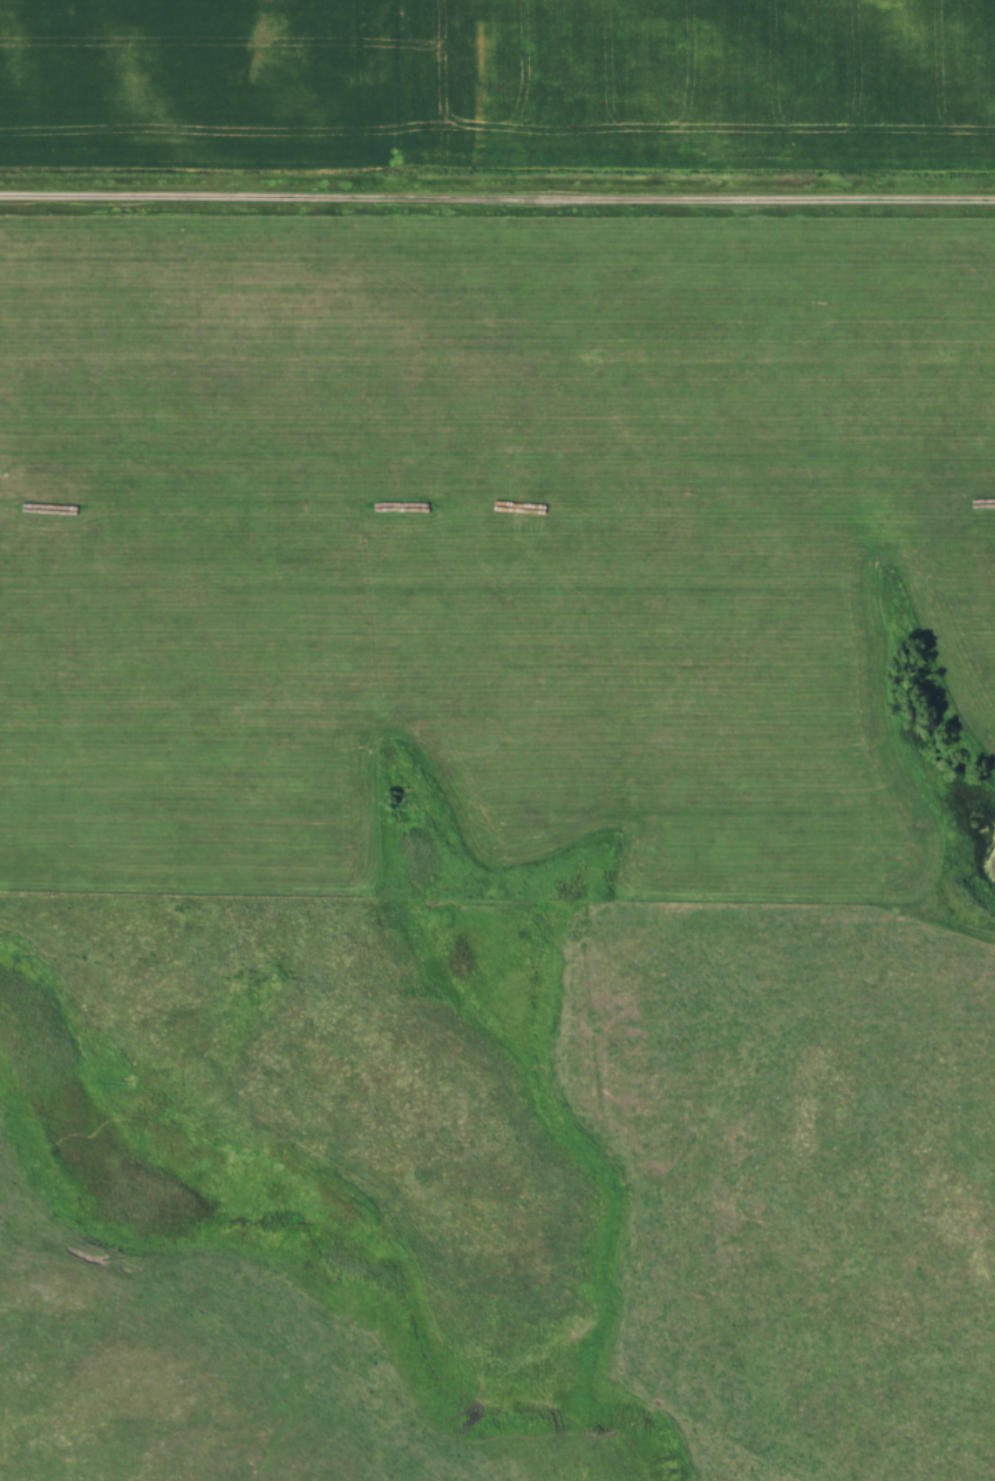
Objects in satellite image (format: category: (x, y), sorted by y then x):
road: (497, 199)

